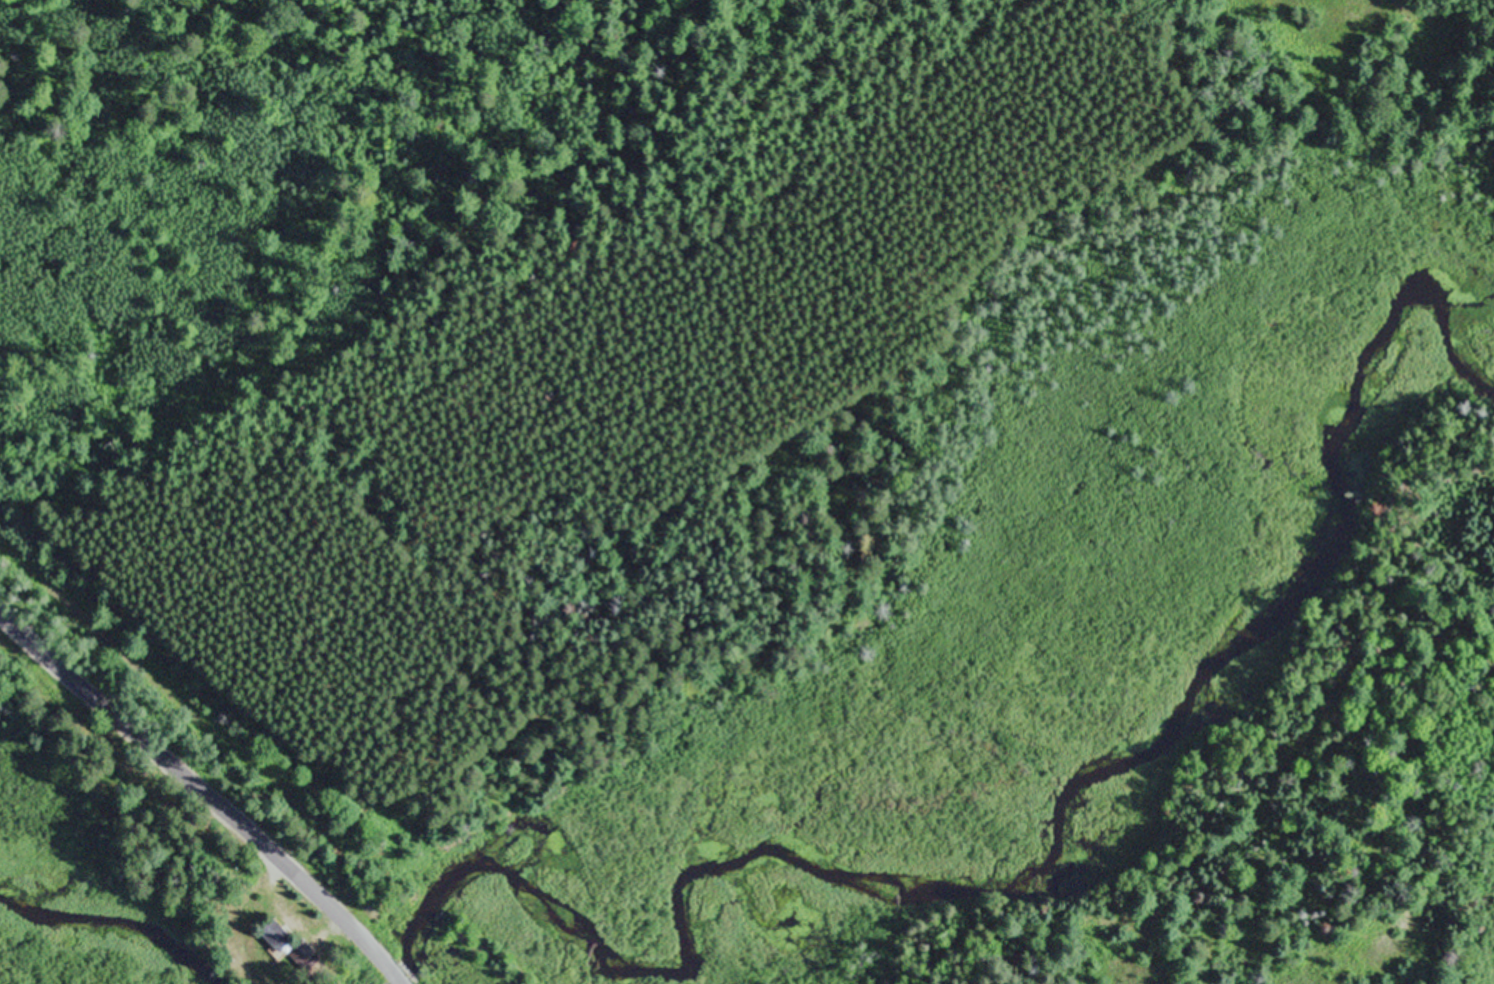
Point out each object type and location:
road: (194, 789)
building: (278, 938)
building: (308, 960)
road: (391, 973)

